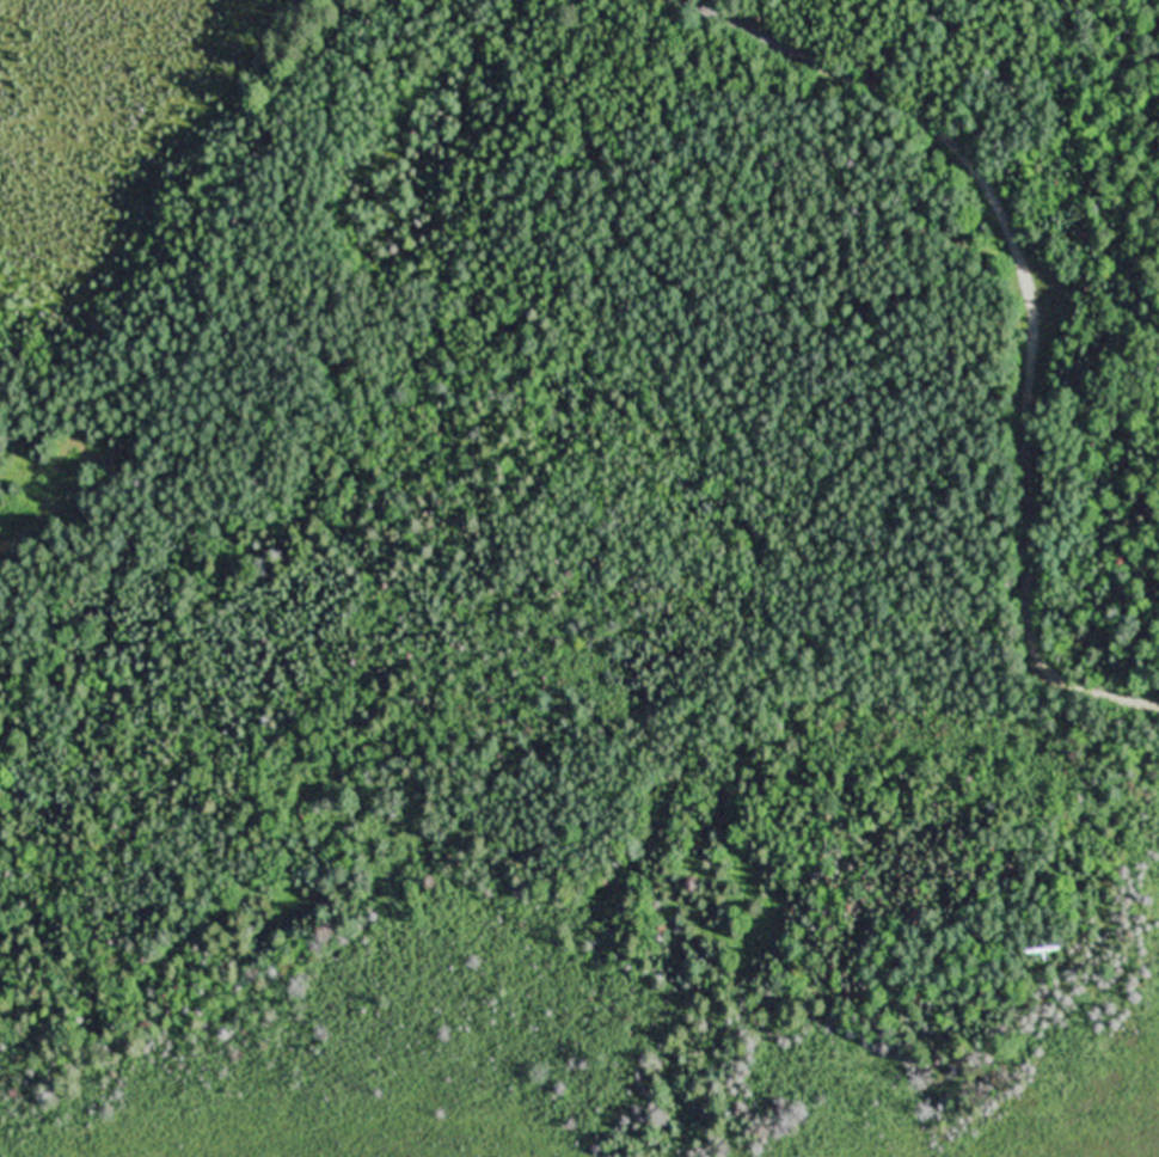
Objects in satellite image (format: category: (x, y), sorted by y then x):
road: (1028, 311)

